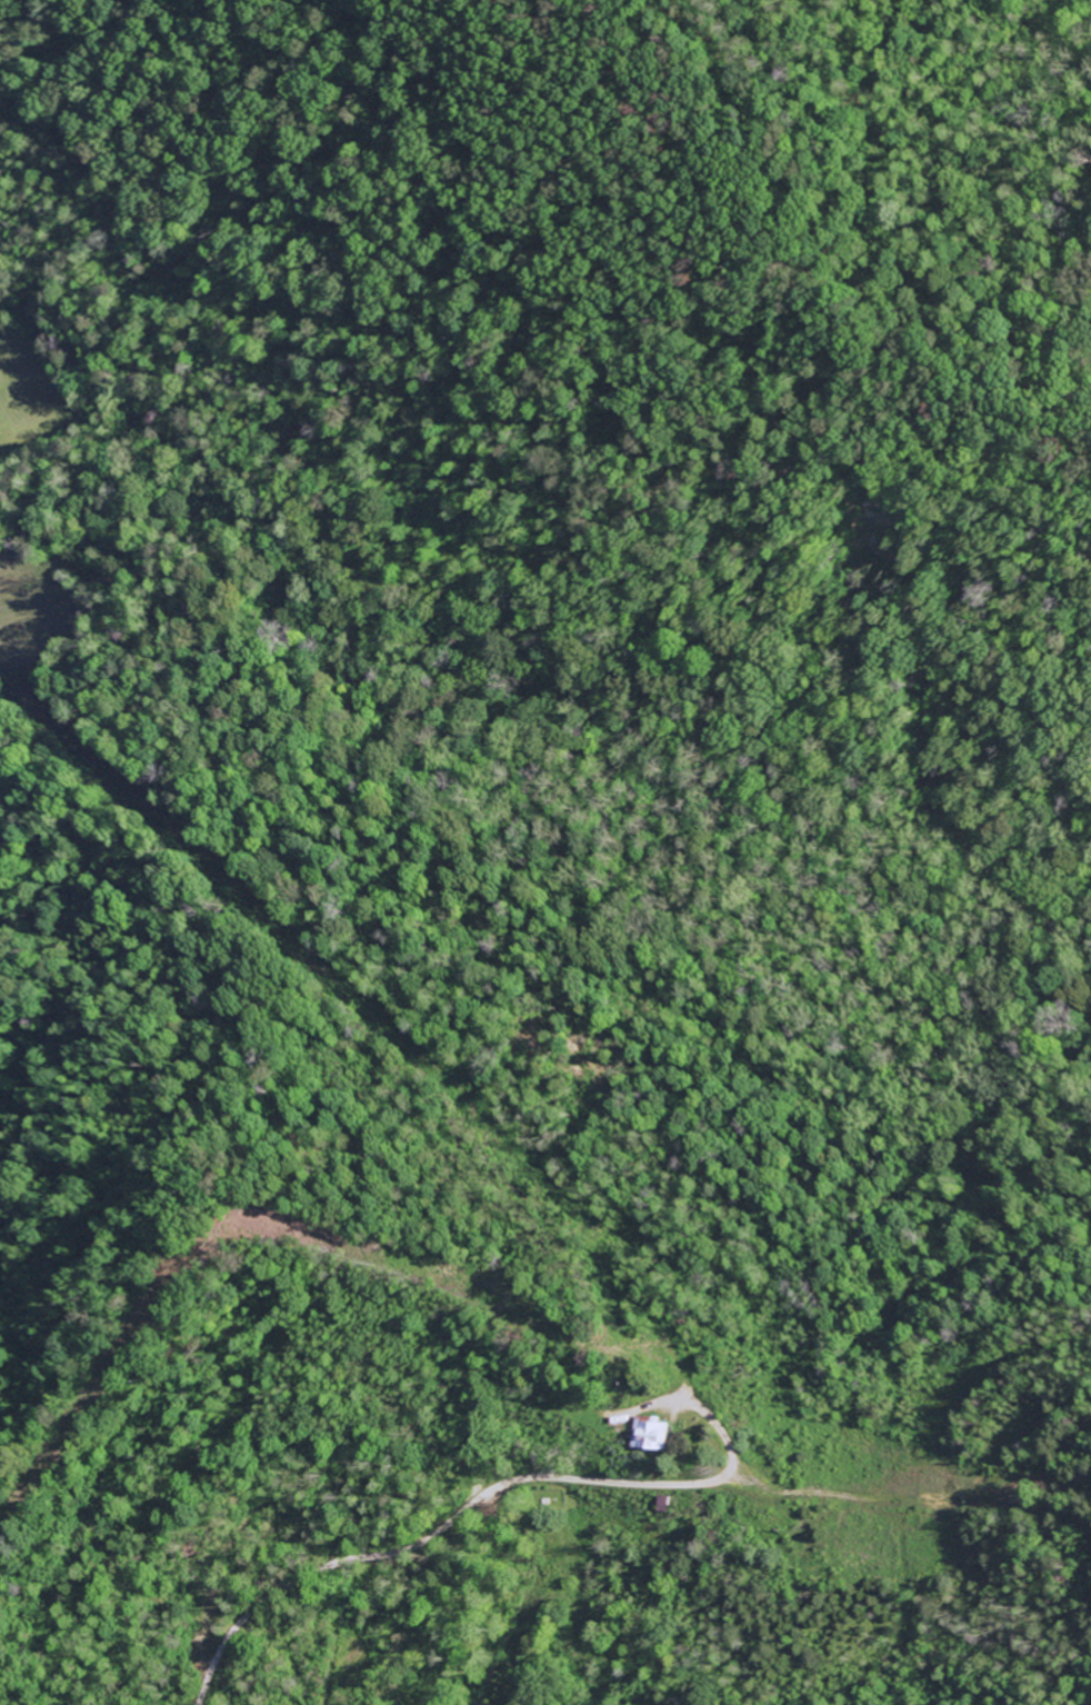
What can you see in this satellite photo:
road: (416, 199)
road: (464, 644)
building: (654, 1436)
road: (440, 1527)
road: (284, 1654)

